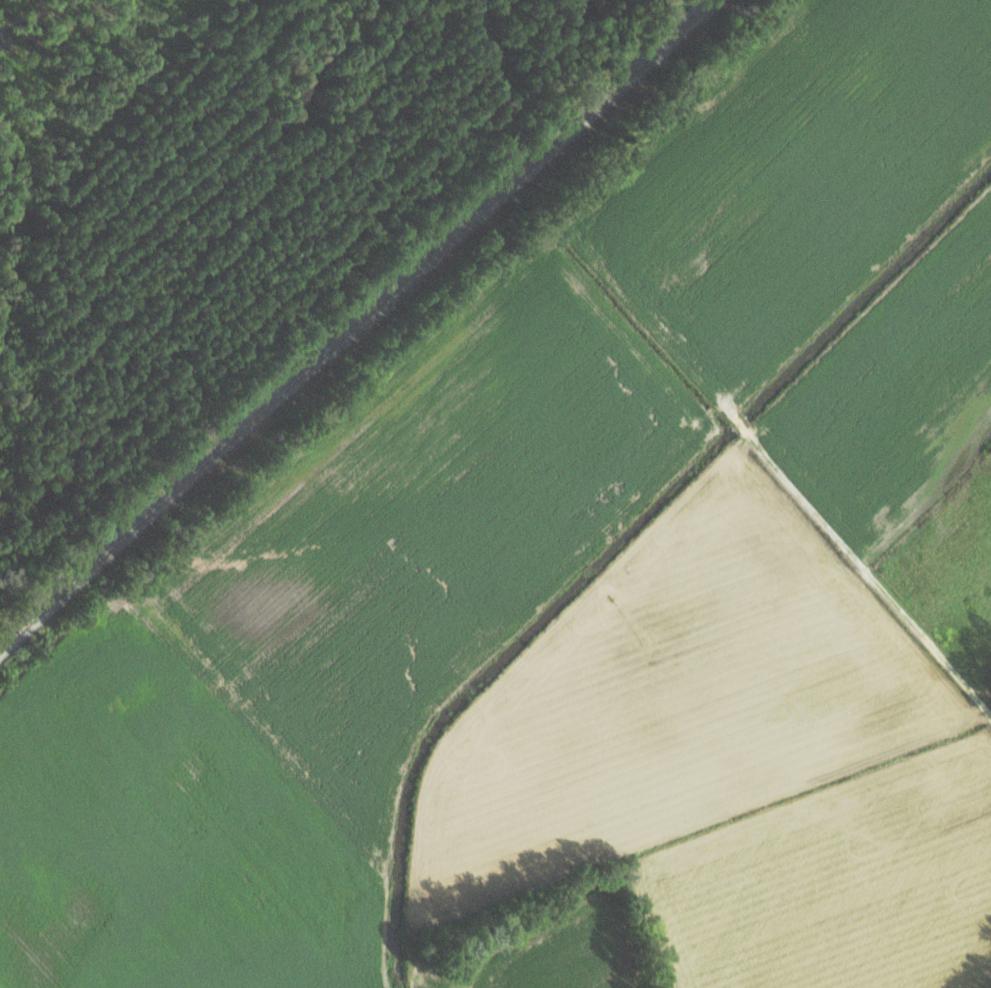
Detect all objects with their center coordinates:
railway: (356, 324)

